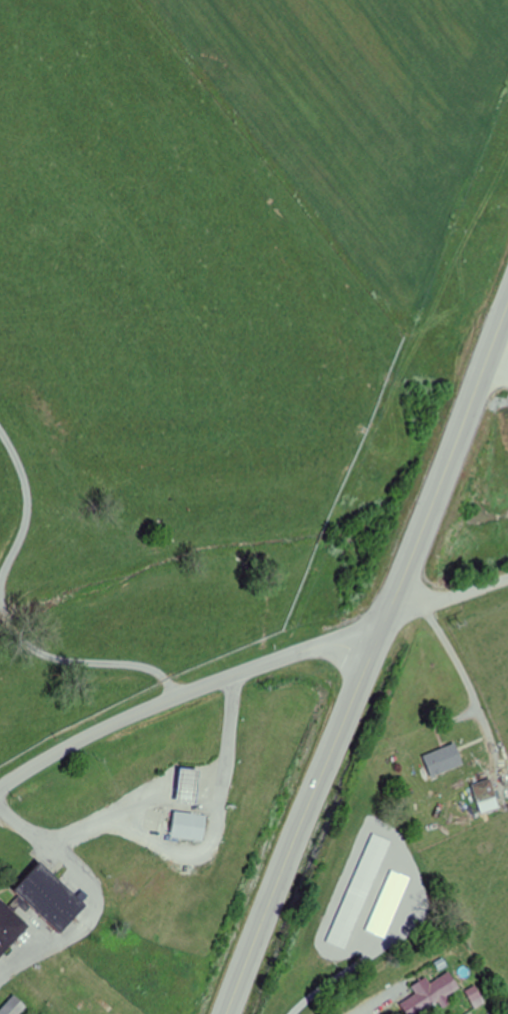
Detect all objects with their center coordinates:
road: (2, 500)
road: (446, 599)
road: (294, 652)
road: (368, 658)
road: (103, 672)
road: (468, 685)
road: (98, 730)
building: (442, 760)
building: (188, 783)
gas station: (188, 783)
building: (485, 796)
building: (190, 823)
flagpole: (102, 874)
building: (361, 890)
building: (51, 895)
building: (10, 924)
road: (337, 977)
building: (432, 994)
building: (14, 1007)

